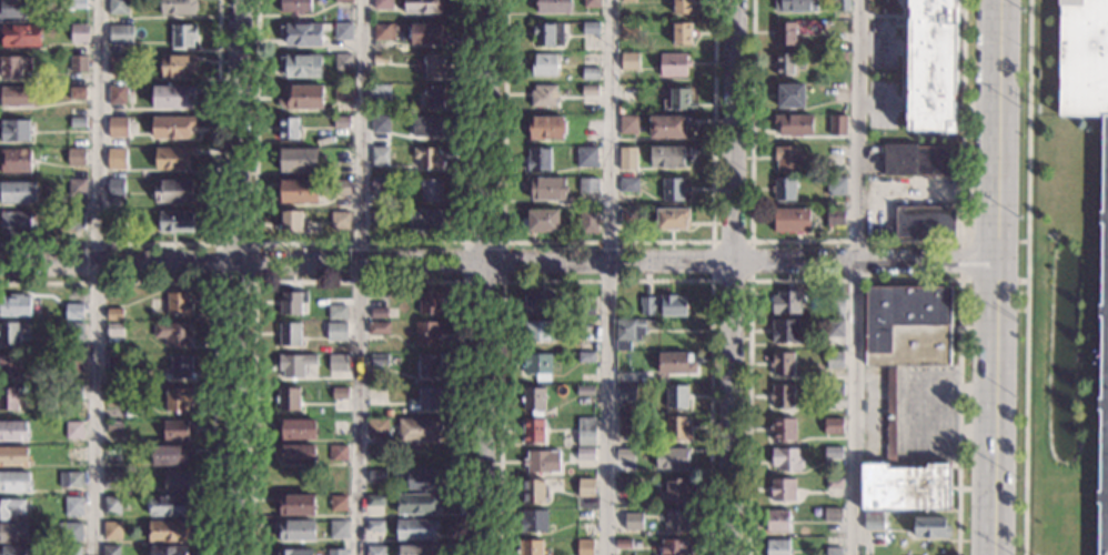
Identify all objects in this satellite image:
building: (631, 0)
building: (343, 1)
building: (591, 3)
building: (77, 4)
building: (381, 4)
building: (839, 4)
building: (552, 6)
building: (795, 6)
building: (117, 7)
building: (178, 7)
building: (294, 7)
building: (423, 7)
building: (681, 7)
building: (12, 9)
road: (880, 14)
building: (88, 22)
building: (396, 28)
building: (588, 28)
building: (628, 30)
building: (342, 32)
building: (383, 32)
building: (78, 33)
building: (424, 33)
building: (546, 33)
building: (681, 33)
building: (783, 33)
building: (19, 34)
building: (120, 34)
building: (300, 34)
building: (182, 36)
parking lot: (880, 43)
road: (876, 44)
road: (901, 51)
building: (380, 58)
building: (838, 58)
building: (391, 60)
building: (342, 62)
building: (629, 62)
building: (77, 63)
building: (115, 63)
building: (13, 64)
building: (542, 64)
building: (673, 64)
building: (786, 64)
building: (936, 64)
building: (175, 65)
building: (300, 65)
building: (432, 65)
building: (590, 74)
building: (590, 91)
building: (75, 92)
building: (342, 93)
building: (115, 94)
building: (14, 95)
building: (379, 95)
building: (788, 95)
building: (172, 97)
building: (432, 97)
building: (542, 97)
building: (301, 98)
building: (676, 100)
road: (879, 103)
parking lot: (882, 104)
building: (75, 122)
building: (379, 124)
building: (626, 124)
building: (793, 125)
building: (836, 125)
building: (117, 127)
building: (170, 127)
building: (341, 127)
building: (425, 127)
building: (667, 127)
building: (286, 128)
building: (544, 128)
building: (13, 131)
building: (74, 157)
building: (377, 157)
building: (584, 157)
building: (667, 157)
building: (172, 158)
building: (342, 158)
building: (427, 158)
building: (785, 158)
building: (115, 159)
building: (298, 159)
building: (536, 159)
building: (626, 159)
building: (14, 160)
building: (917, 160)
building: (379, 183)
building: (328, 185)
building: (588, 185)
building: (627, 185)
building: (75, 186)
building: (834, 186)
building: (113, 188)
building: (430, 188)
building: (545, 188)
building: (340, 189)
building: (782, 189)
road: (916, 189)
building: (672, 190)
building: (172, 191)
building: (295, 191)
building: (18, 192)
building: (834, 216)
building: (628, 218)
building: (114, 219)
building: (377, 219)
building: (669, 219)
building: (73, 220)
building: (339, 220)
building: (790, 220)
building: (174, 221)
building: (290, 221)
building: (424, 221)
building: (538, 221)
building: (587, 222)
building: (924, 222)
building: (16, 223)
road: (218, 230)
road: (855, 241)
road: (606, 242)
road: (254, 243)
road: (357, 243)
road: (960, 260)
road: (498, 264)
road: (94, 276)
road: (360, 276)
road: (485, 276)
road: (607, 276)
road: (732, 276)
road: (856, 276)
road: (997, 276)
road: (239, 277)
road: (1027, 277)
road: (855, 280)
road: (357, 281)
road: (606, 281)
road: (748, 281)
road: (502, 282)
building: (290, 302)
building: (786, 302)
building: (537, 303)
building: (13, 304)
building: (177, 304)
building: (427, 304)
building: (672, 304)
building: (646, 306)
building: (833, 307)
road: (215, 310)
building: (584, 310)
building: (72, 311)
building: (335, 311)
building: (376, 312)
building: (113, 314)
building: (907, 325)
building: (584, 326)
building: (335, 327)
building: (376, 327)
building: (626, 327)
building: (834, 327)
building: (112, 329)
building: (72, 331)
building: (536, 331)
building: (784, 331)
building: (171, 332)
building: (8, 333)
building: (286, 333)
building: (424, 333)
building: (1104, 336)
building: (621, 345)
building: (637, 354)
building: (585, 356)
building: (834, 359)
building: (376, 360)
building: (113, 362)
building: (674, 362)
building: (70, 363)
building: (336, 363)
building: (427, 364)
building: (780, 364)
building: (10, 365)
building: (293, 365)
building: (535, 365)
building: (179, 367)
building: (552, 380)
building: (833, 390)
building: (584, 391)
building: (71, 392)
building: (339, 393)
building: (625, 394)
building: (112, 395)
building: (780, 395)
building: (675, 396)
building: (8, 397)
building: (175, 398)
building: (285, 398)
building: (424, 400)
building: (532, 401)
road: (934, 407)
building: (386, 414)
building: (889, 415)
parking lot: (925, 415)
building: (624, 425)
building: (112, 426)
building: (833, 426)
building: (338, 427)
building: (675, 427)
building: (376, 428)
building: (783, 428)
building: (296, 430)
building: (416, 430)
building: (12, 431)
building: (72, 431)
building: (174, 431)
building: (532, 431)
building: (584, 432)
building: (832, 452)
building: (73, 453)
building: (335, 453)
building: (169, 454)
building: (293, 454)
building: (584, 454)
building: (12, 455)
building: (624, 455)
building: (669, 457)
building: (785, 458)
building: (541, 462)
building: (374, 475)
building: (112, 478)
building: (420, 480)
building: (13, 481)
building: (175, 481)
building: (68, 482)
building: (834, 483)
building: (624, 484)
building: (585, 487)
building: (904, 487)
building: (783, 490)
building: (675, 491)
building: (533, 492)
building: (374, 501)
building: (336, 503)
building: (110, 504)
building: (293, 504)
building: (414, 504)
building: (71, 505)
building: (168, 505)
building: (10, 506)
building: (374, 511)
building: (832, 514)
building: (583, 515)
building: (676, 521)
building: (532, 522)
building: (633, 522)
building: (777, 522)
building: (872, 522)
building: (373, 526)
building: (929, 527)
building: (415, 528)
building: (168, 529)
building: (292, 529)
building: (336, 529)
building: (111, 531)
building: (12, 532)
building: (68, 532)
building: (622, 544)
building: (527, 547)
building: (584, 547)
building: (674, 547)
building: (775, 547)
building: (109, 549)
building: (167, 549)
building: (375, 549)
building: (416, 549)
building: (12, 551)
building: (70, 551)
building: (833, 551)
building: (292, 552)
building: (335, 552)

